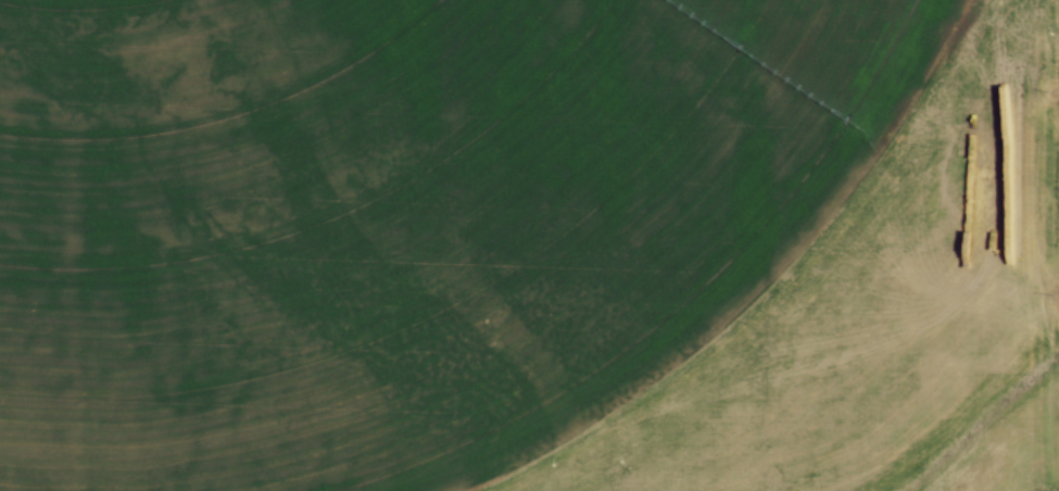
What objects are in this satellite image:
crop: (529, 246)

